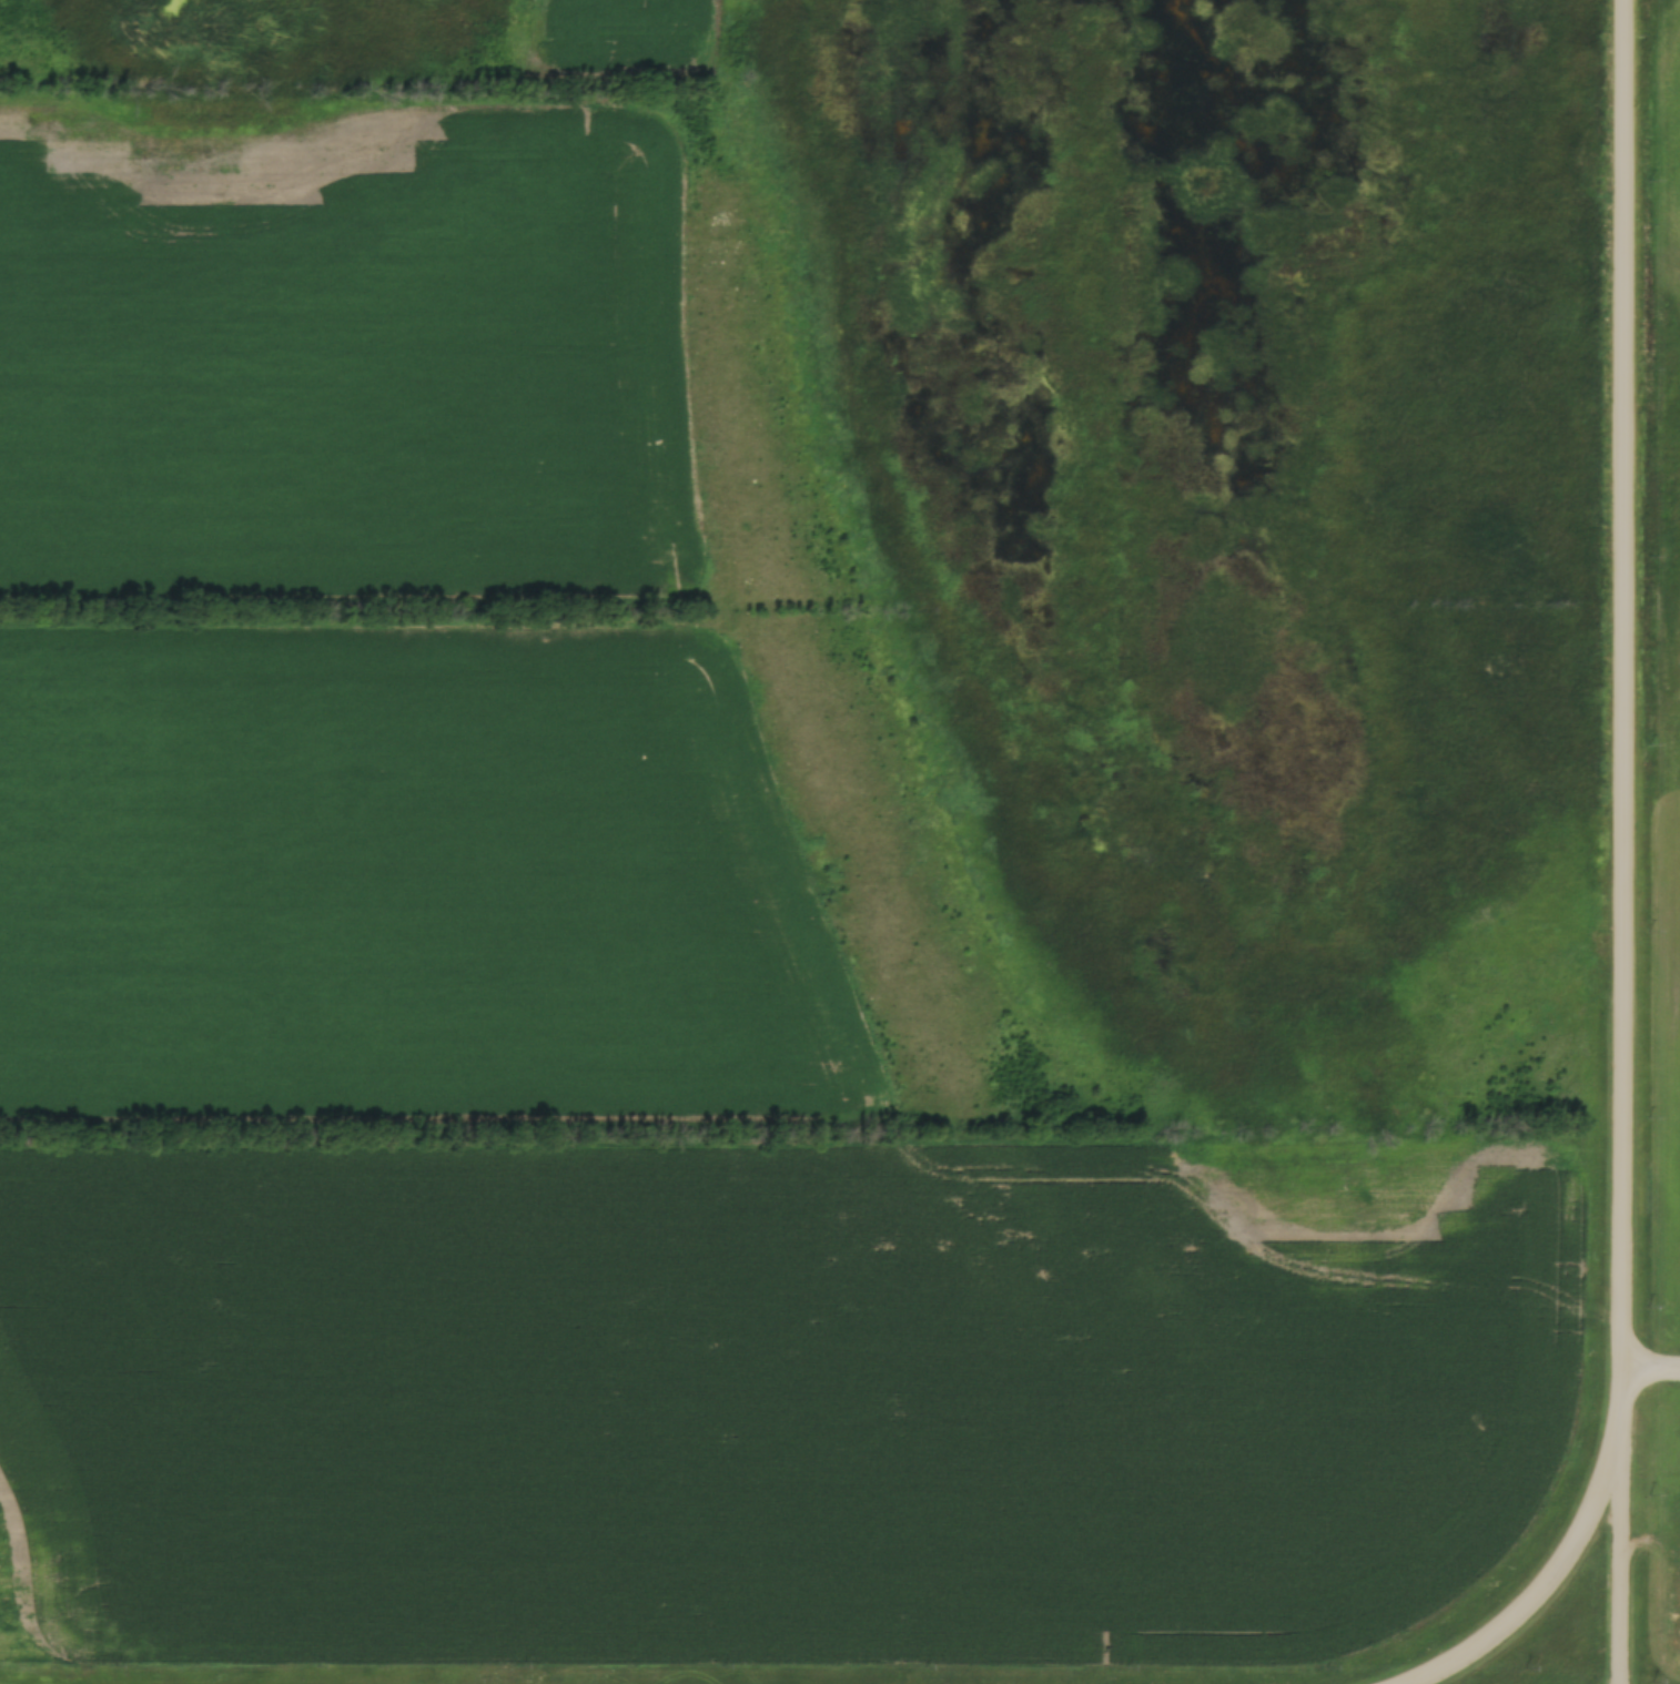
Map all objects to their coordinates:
road: (1621, 842)

